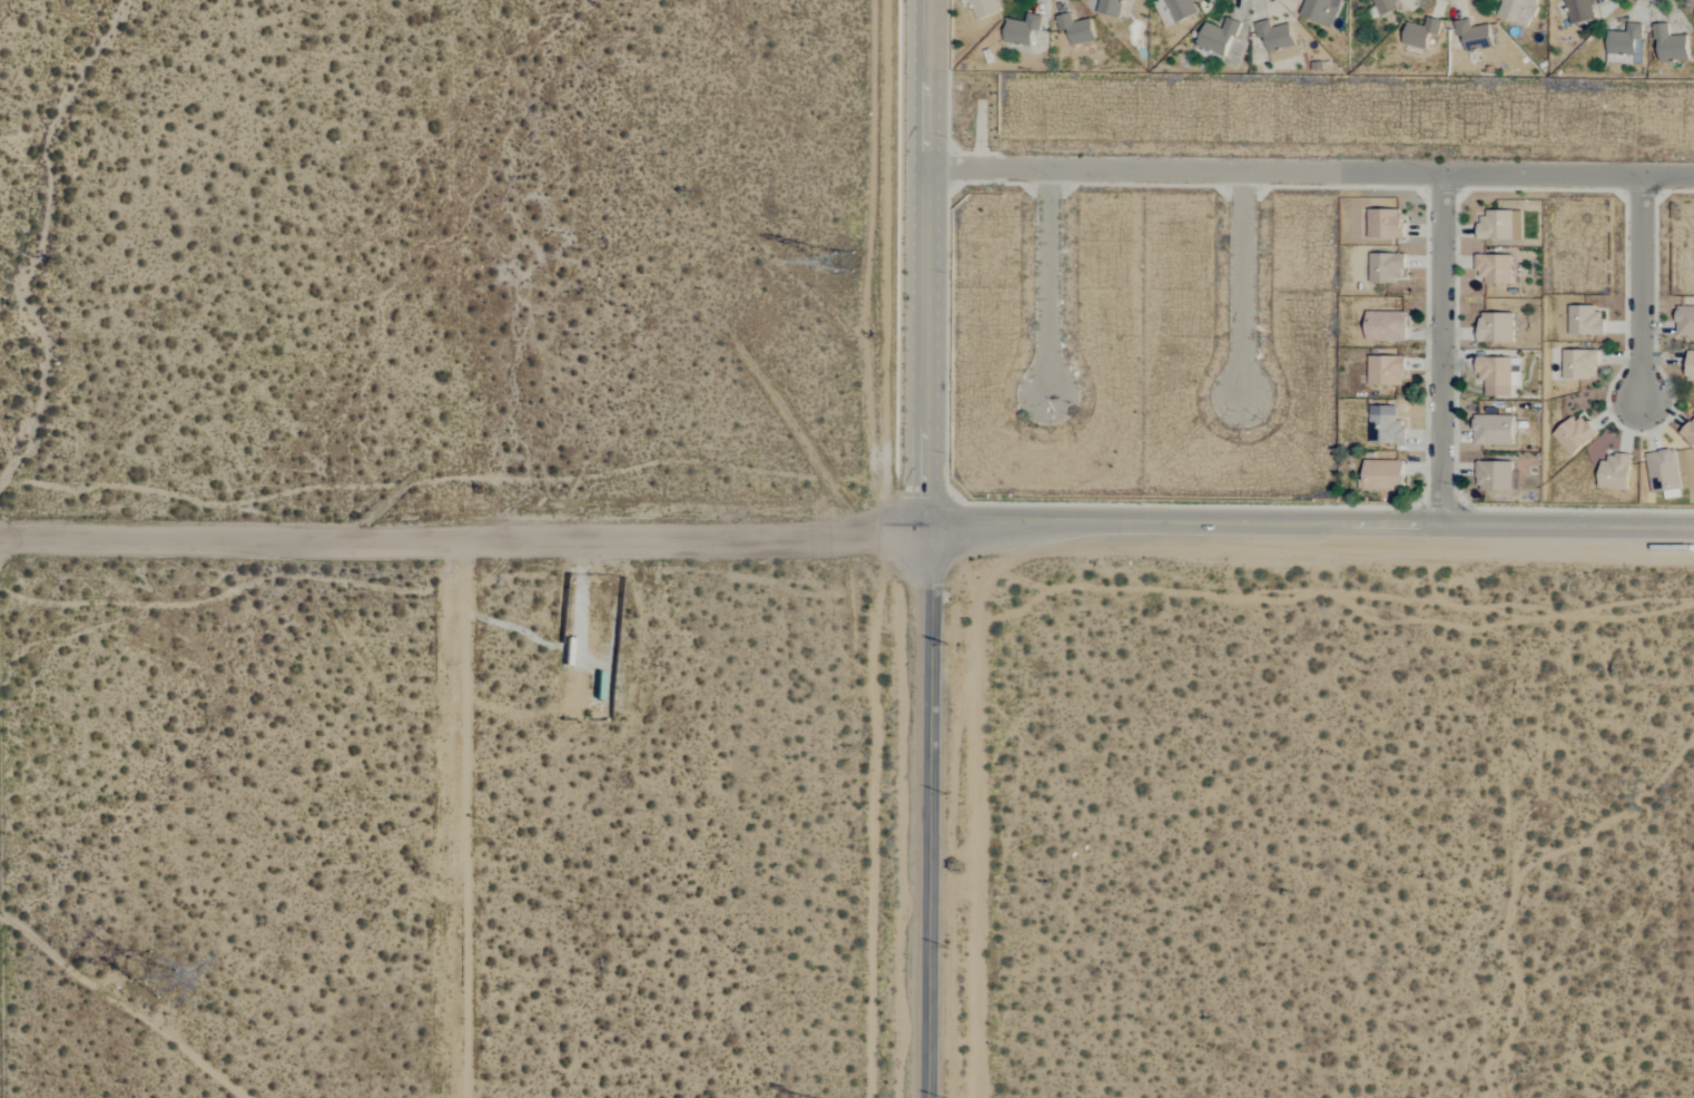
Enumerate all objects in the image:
building: (1385, 6)
building: (983, 7)
building: (1173, 10)
building: (1320, 10)
building: (1579, 10)
building: (1517, 11)
building: (1420, 32)
building: (1473, 36)
building: (1217, 37)
building: (1276, 40)
building: (1625, 45)
building: (1670, 45)
road: (1311, 170)
building: (1383, 224)
building: (1500, 225)
road: (927, 258)
power tower: (847, 259)
building: (1386, 267)
building: (1493, 268)
road: (1050, 282)
road: (1244, 283)
road: (1644, 287)
building: (1584, 321)
building: (1685, 321)
building: (1385, 326)
building: (1495, 327)
road: (1441, 347)
building: (1579, 364)
building: (1690, 365)
building: (1385, 371)
building: (1497, 375)
building: (1386, 429)
building: (1493, 430)
building: (1573, 434)
building: (1688, 434)
building: (1663, 471)
building: (1613, 472)
building: (1382, 476)
building: (1495, 476)
street lamp: (1454, 488)
street lamp: (1590, 510)
road: (1310, 521)
road: (463, 538)
road: (923, 807)
road: (473, 817)
power tower: (150, 974)

